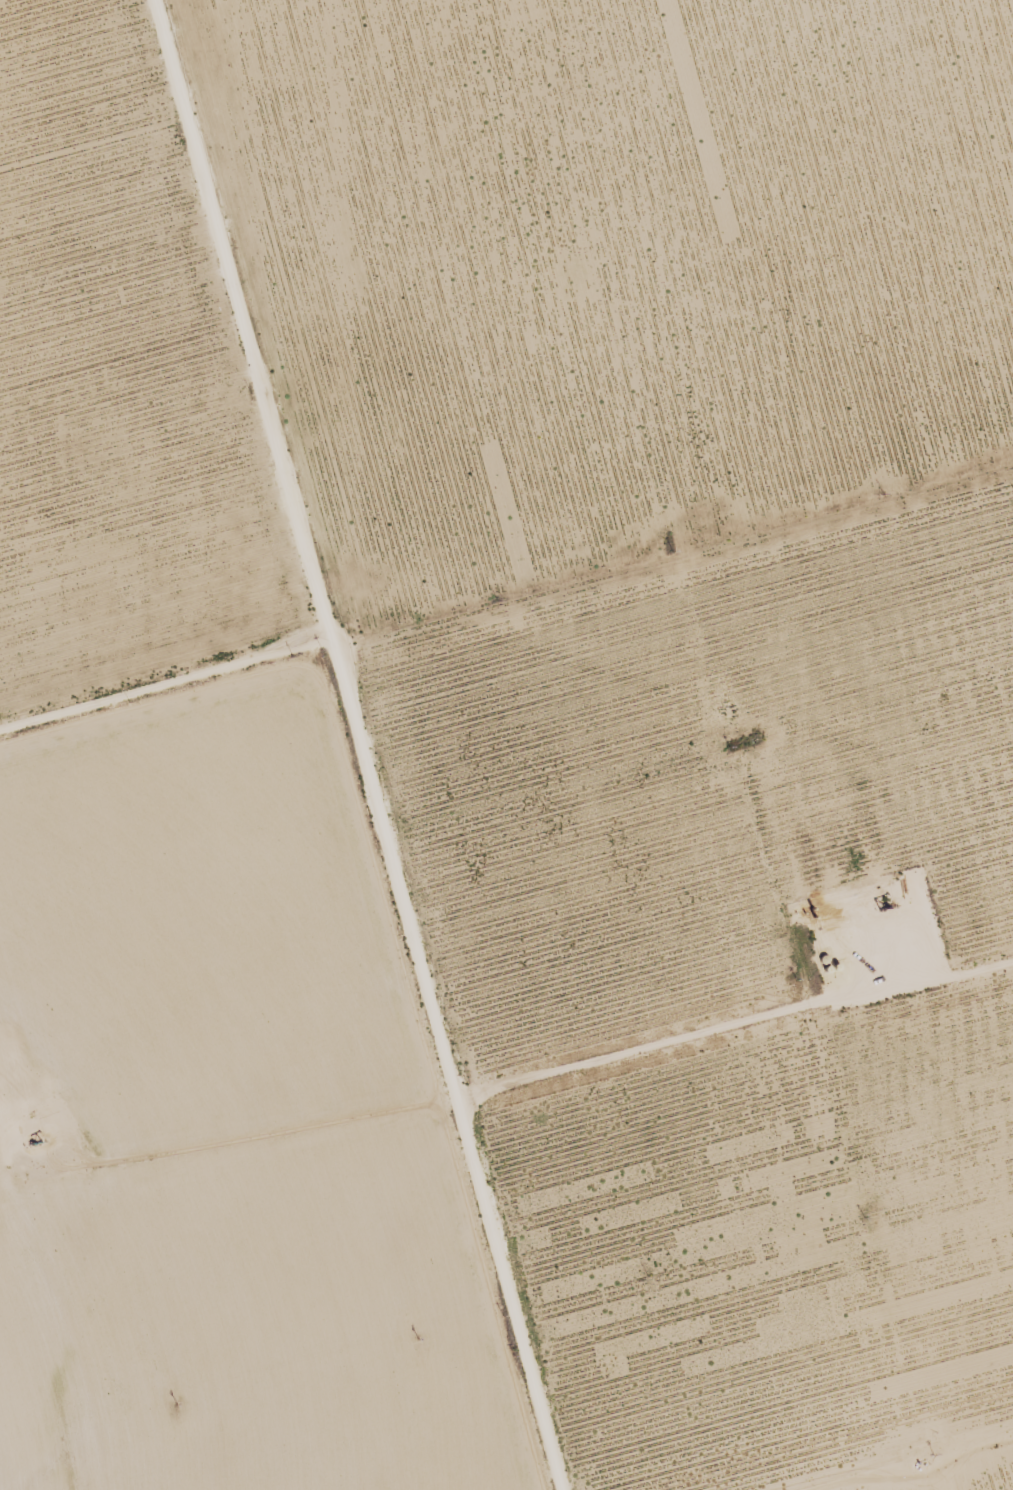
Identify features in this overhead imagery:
road: (159, 697)
road: (302, 717)
road: (344, 744)

